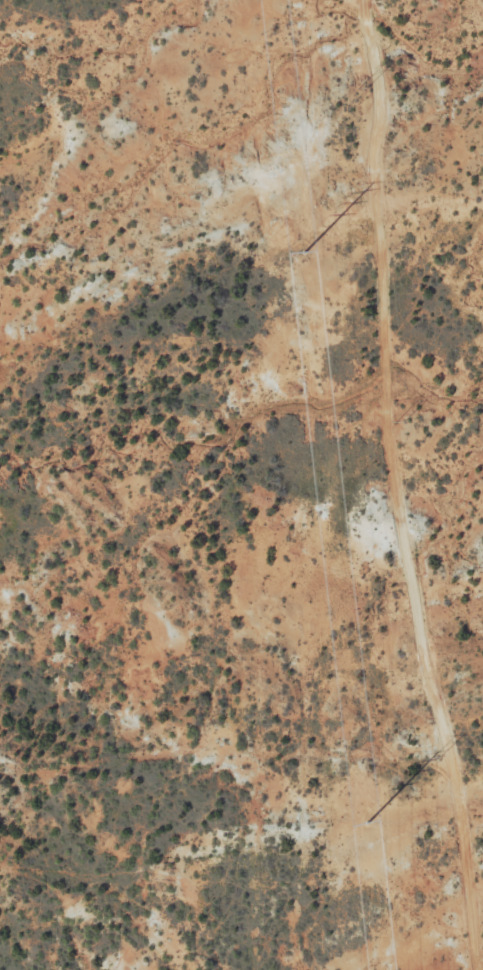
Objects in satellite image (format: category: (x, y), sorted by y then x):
power tower: (361, 86)
power tower: (304, 252)
power tower: (399, 418)
power tower: (437, 755)
power tower: (366, 821)

